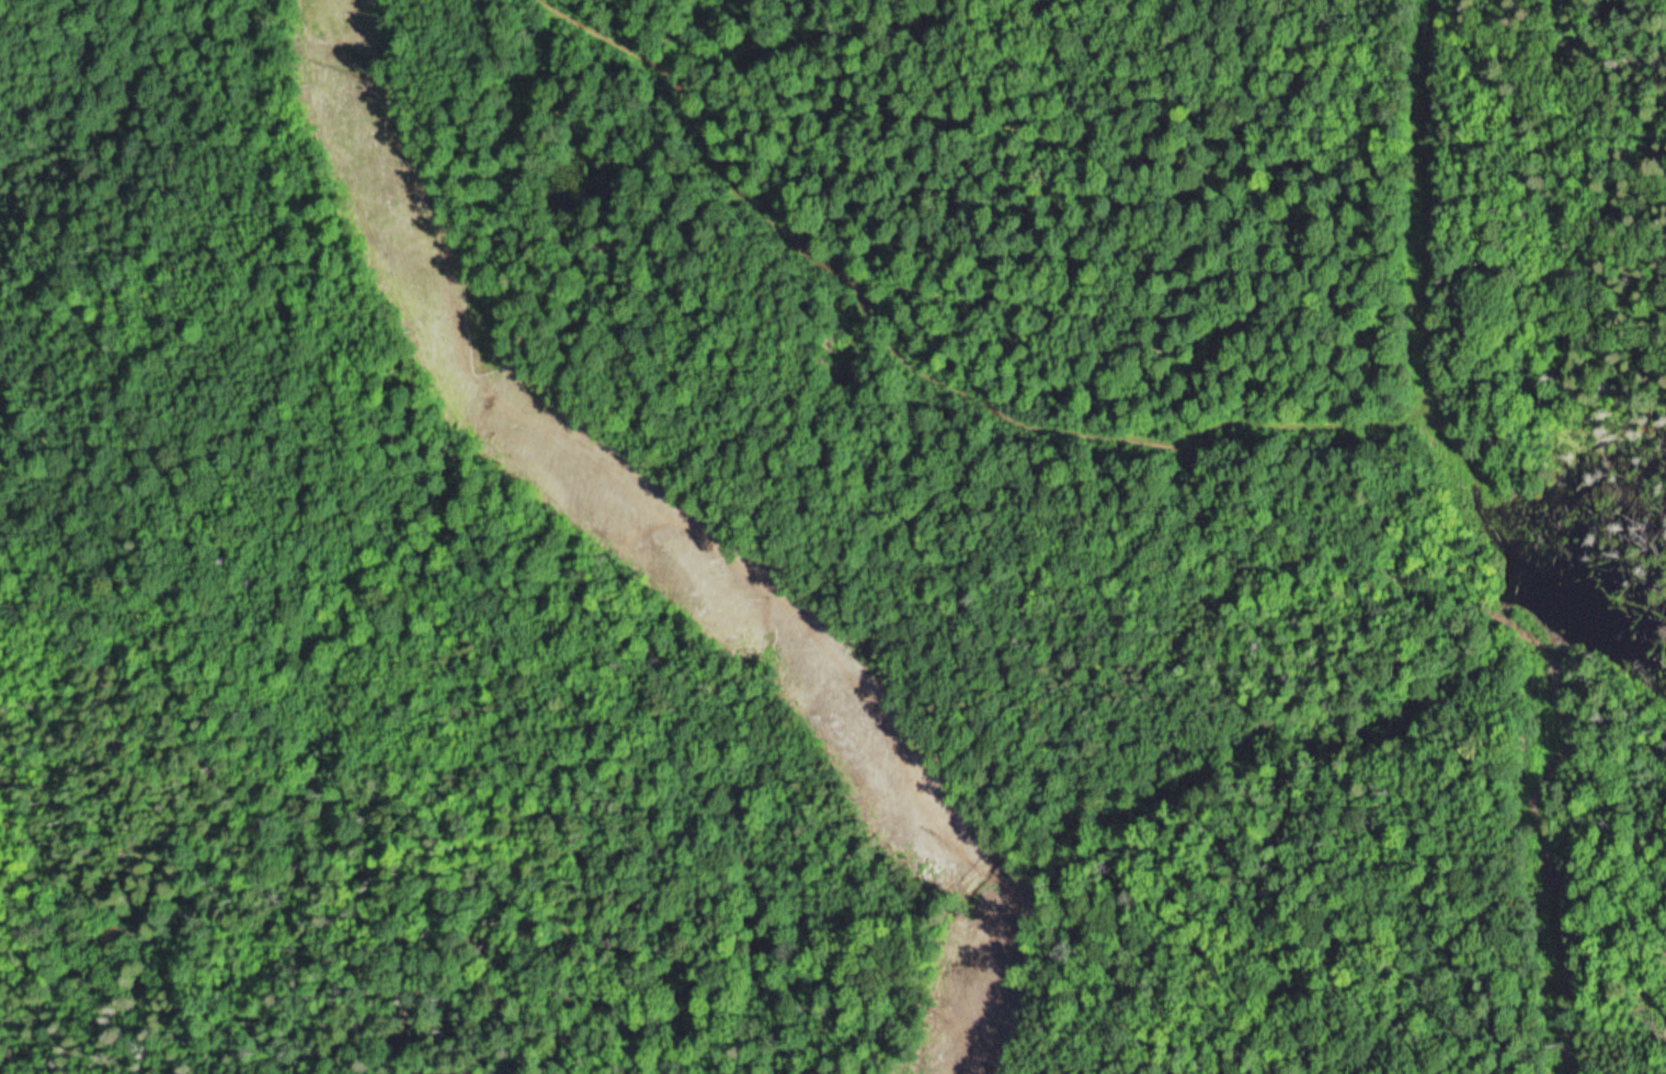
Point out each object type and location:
road: (1504, 539)

